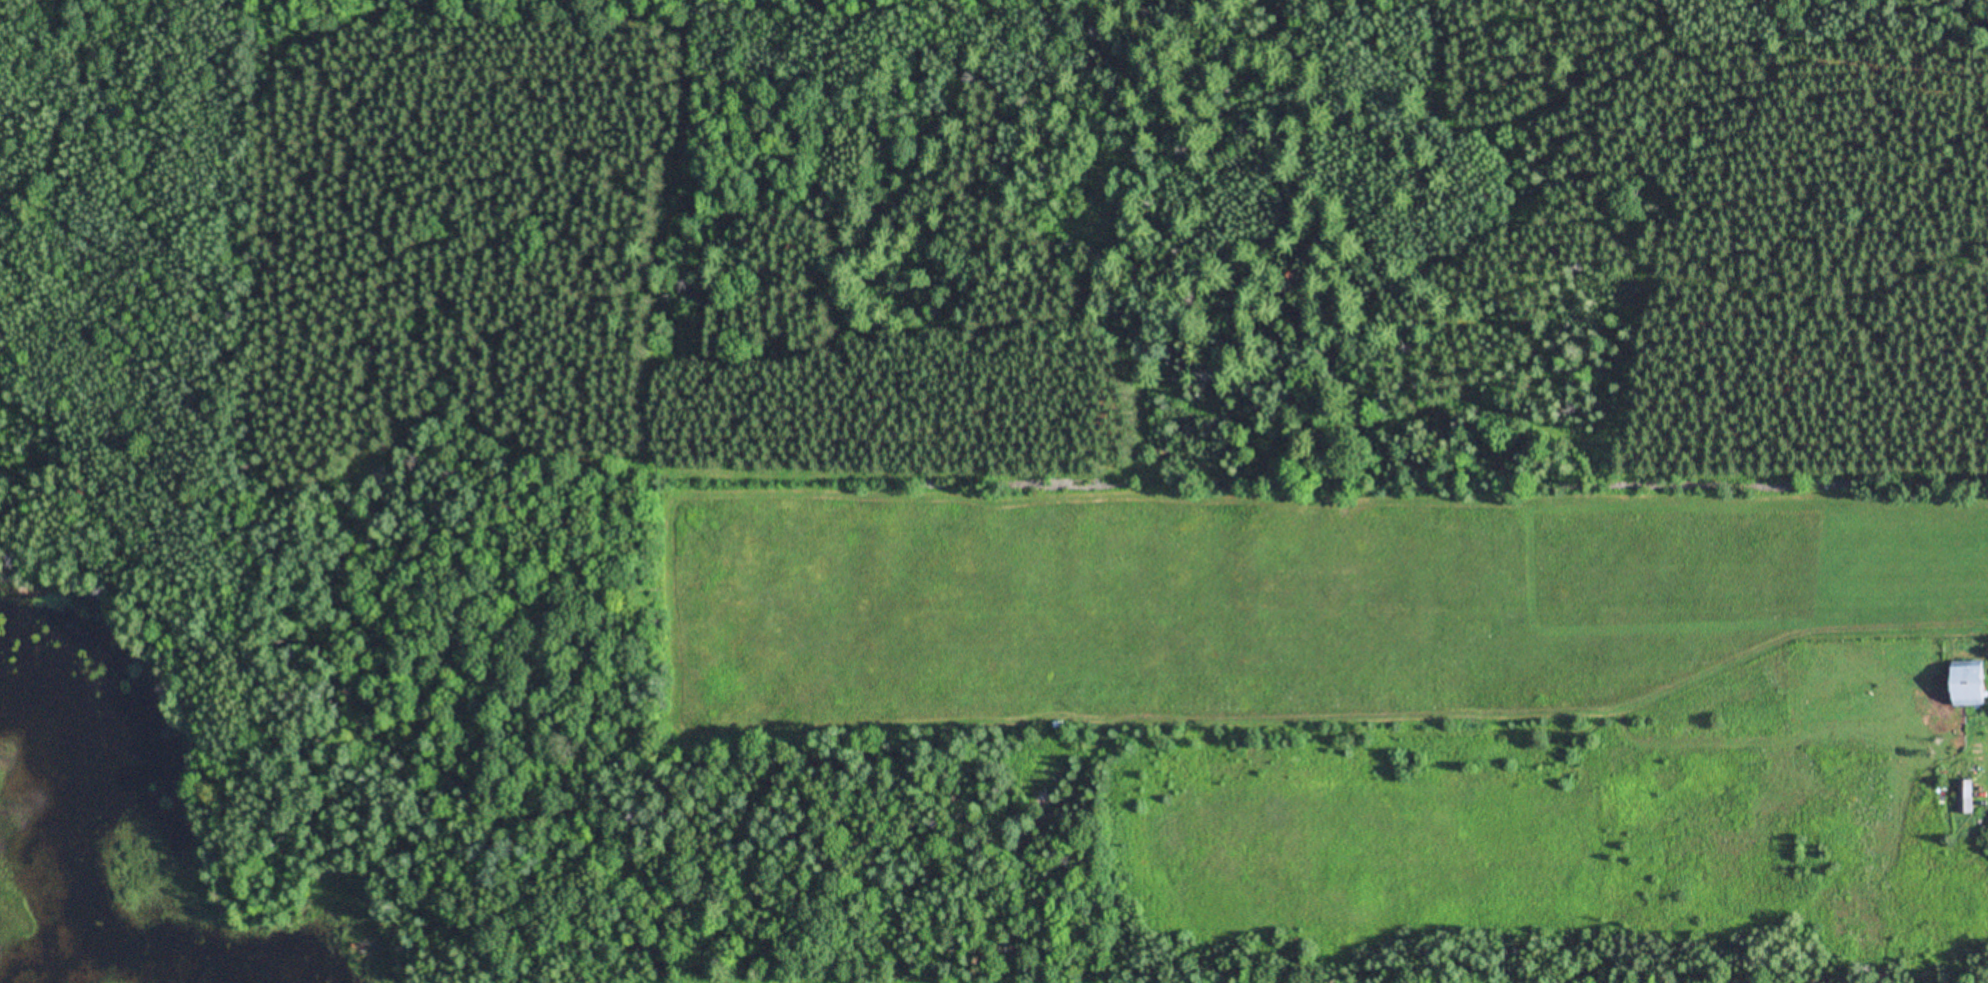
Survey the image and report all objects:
building: (1973, 685)
building: (1967, 797)

